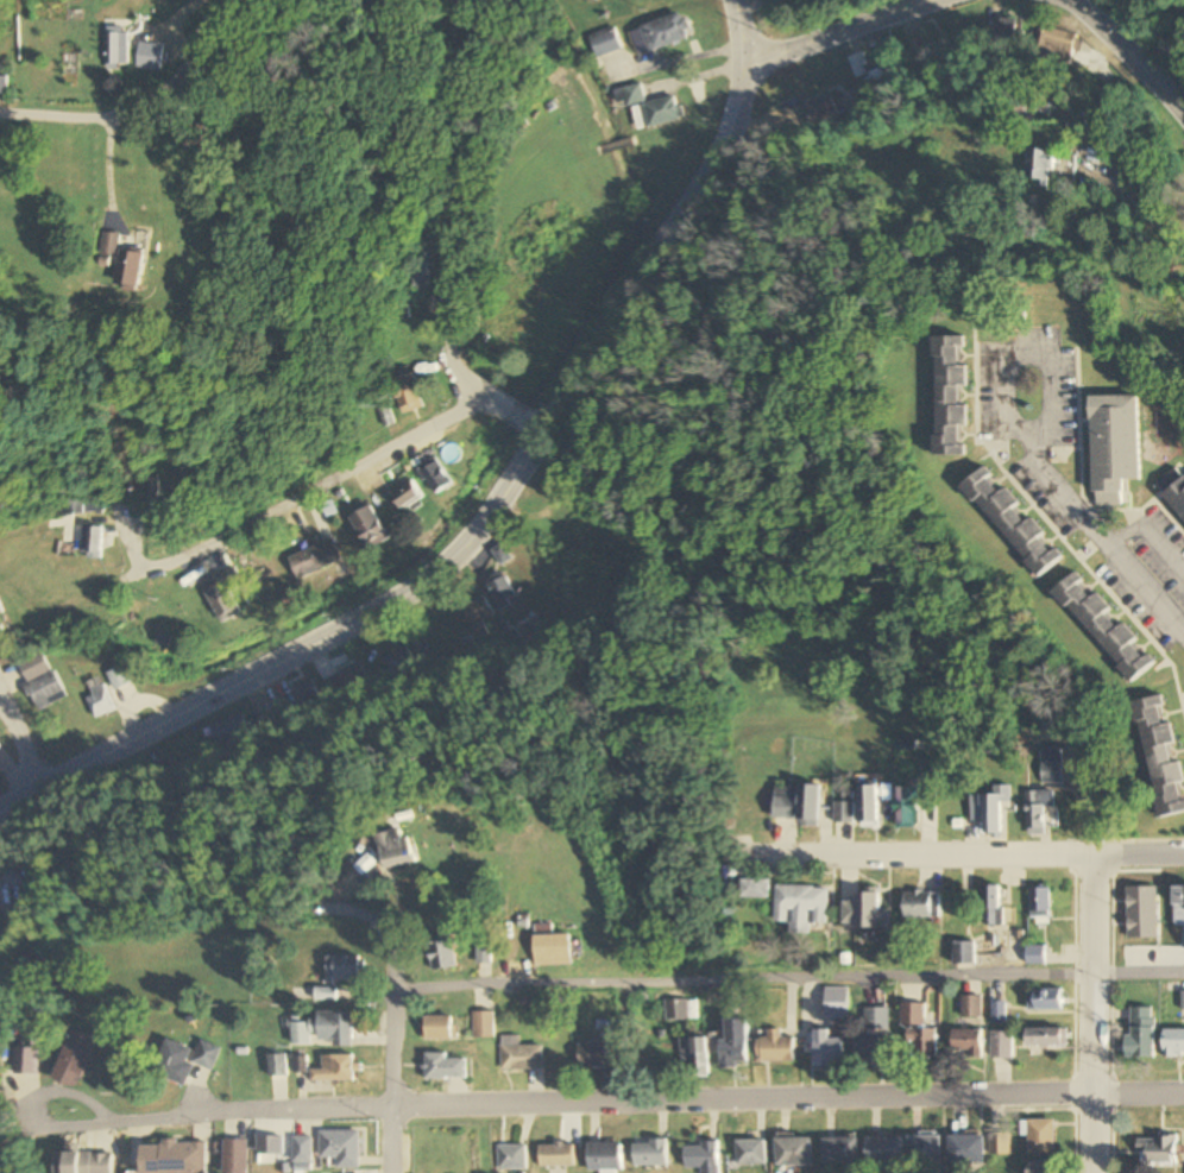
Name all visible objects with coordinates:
road: (840, 32)
building: (660, 33)
building: (1008, 34)
building: (606, 43)
building: (1058, 45)
building: (116, 46)
road: (1127, 55)
building: (149, 56)
building: (882, 77)
building: (2, 84)
building: (635, 94)
building: (1027, 106)
road: (137, 107)
building: (657, 112)
building: (820, 112)
building: (1039, 164)
road: (108, 168)
road: (454, 203)
building: (108, 250)
building: (421, 266)
building: (128, 270)
building: (408, 393)
building: (950, 396)
road: (515, 409)
building: (1113, 447)
building: (436, 477)
building: (150, 485)
building: (1173, 491)
building: (405, 496)
road: (285, 503)
building: (78, 506)
road: (491, 507)
road: (1070, 513)
building: (1013, 522)
building: (370, 528)
building: (93, 542)
building: (316, 560)
building: (500, 591)
building: (222, 601)
building: (0, 610)
building: (477, 612)
building: (1104, 626)
building: (402, 668)
building: (119, 677)
building: (40, 681)
building: (344, 685)
building: (307, 698)
building: (99, 699)
building: (229, 731)
building: (0, 749)
building: (1160, 757)
road: (15, 765)
building: (1051, 767)
building: (796, 805)
building: (868, 805)
building: (907, 807)
building: (991, 809)
building: (1041, 812)
building: (842, 813)
building: (391, 850)
road: (1136, 856)
road: (914, 857)
building: (757, 889)
building: (922, 904)
building: (993, 906)
building: (1040, 906)
building: (1179, 906)
building: (802, 907)
building: (864, 912)
building: (0, 919)
building: (543, 927)
building: (553, 950)
building: (483, 953)
building: (964, 953)
building: (441, 954)
building: (1037, 956)
building: (345, 967)
road: (775, 972)
road: (374, 983)
building: (325, 995)
building: (1047, 999)
building: (836, 1007)
building: (971, 1007)
building: (676, 1010)
building: (999, 1011)
road: (1094, 1015)
building: (876, 1019)
building: (484, 1024)
building: (440, 1027)
building: (336, 1028)
building: (918, 1032)
building: (1141, 1033)
building: (1047, 1038)
building: (1174, 1042)
building: (968, 1043)
building: (735, 1045)
building: (1001, 1046)
building: (776, 1047)
building: (871, 1048)
building: (827, 1049)
building: (597, 1051)
building: (204, 1054)
building: (521, 1055)
building: (695, 1055)
building: (71, 1059)
building: (24, 1061)
building: (171, 1062)
building: (276, 1065)
building: (446, 1066)
building: (334, 1068)
road: (606, 1102)
building: (1041, 1139)
building: (1000, 1144)
building: (270, 1147)
building: (340, 1148)
building: (966, 1150)
building: (301, 1152)
building: (794, 1152)
building: (840, 1152)
building: (1158, 1152)
building: (884, 1153)
building: (924, 1153)
building: (649, 1154)
building: (751, 1154)
building: (234, 1155)
building: (183, 1156)
building: (555, 1156)
building: (511, 1158)
building: (604, 1158)
building: (701, 1158)
building: (82, 1162)
building: (1043, 1167)

